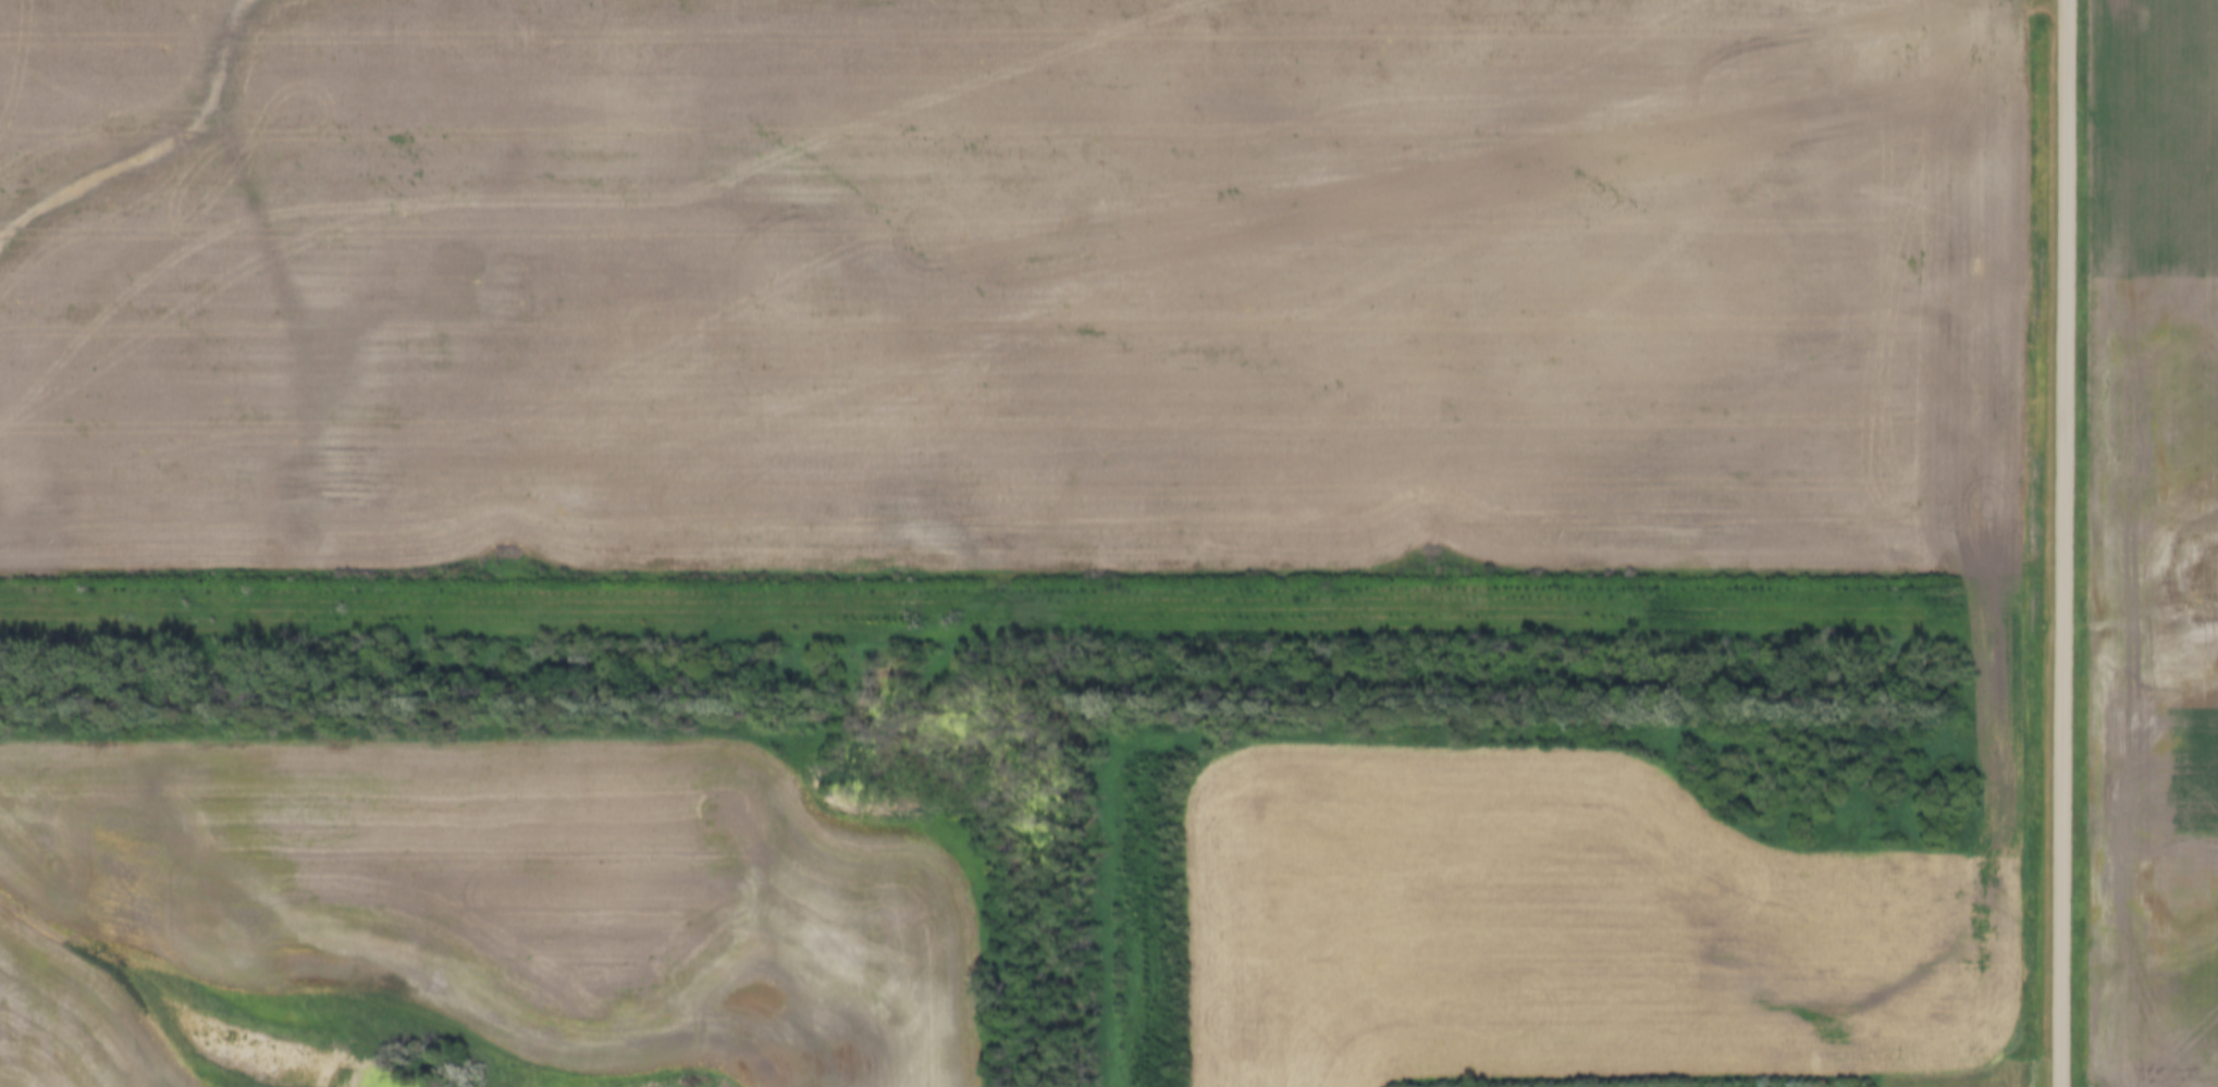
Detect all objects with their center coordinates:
road: (2067, 543)

